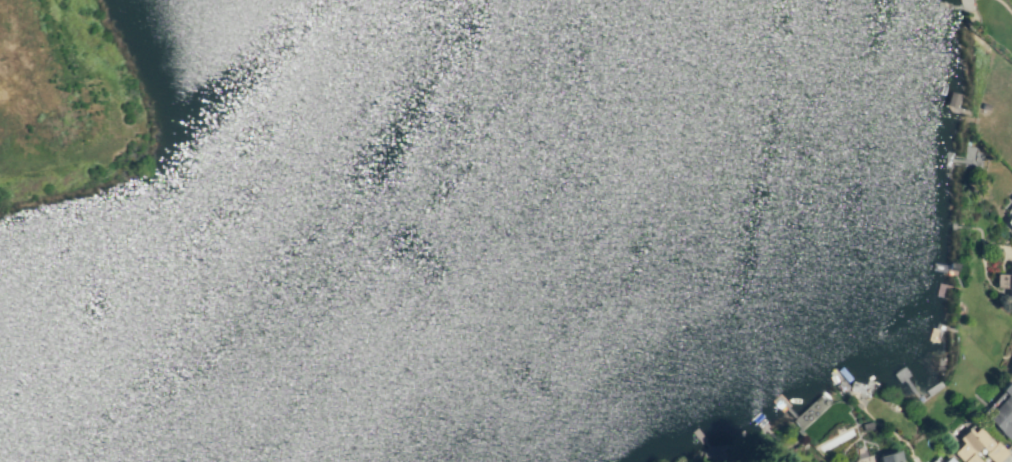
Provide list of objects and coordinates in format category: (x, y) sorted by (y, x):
building: (950, 99)
crop: (44, 106)
building: (1011, 199)
building: (1008, 221)
building: (952, 265)
building: (1004, 281)
building: (1010, 370)
building: (1003, 412)
building: (865, 425)
building: (977, 446)
building: (886, 456)
building: (935, 460)
building: (948, 460)
building: (774, 461)

